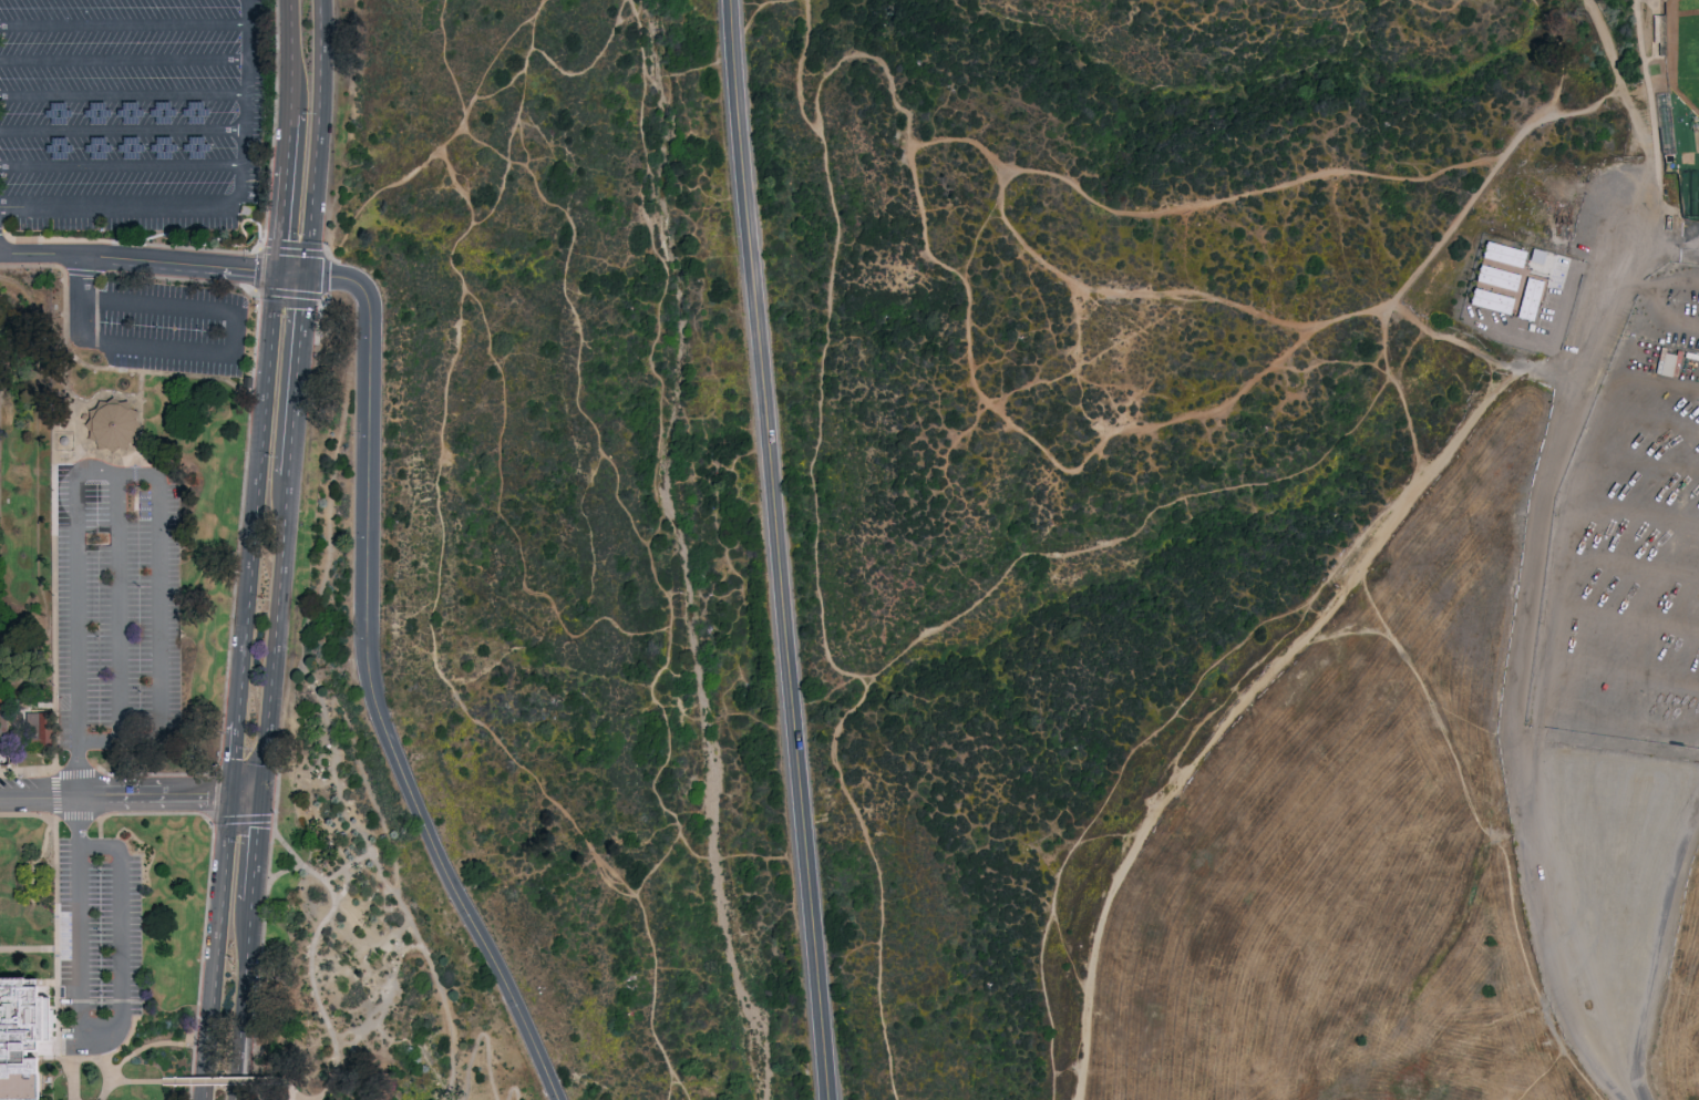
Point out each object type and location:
road: (538, 7)
road: (1438, 7)
road: (756, 8)
road: (1320, 9)
road: (124, 29)
park: (1682, 50)
road: (531, 51)
road: (1564, 55)
road: (291, 56)
road: (124, 64)
road: (796, 68)
road: (318, 72)
road: (821, 81)
road: (125, 96)
road: (248, 105)
building: (125, 111)
building: (159, 111)
building: (191, 111)
building: (54, 112)
parking lot: (132, 113)
road: (1649, 121)
road: (274, 125)
road: (123, 131)
road: (449, 140)
road: (288, 141)
road: (965, 141)
building: (192, 145)
building: (93, 146)
building: (126, 146)
building: (159, 146)
road: (121, 168)
road: (1065, 178)
road: (466, 183)
park: (1698, 203)
road: (115, 209)
road: (310, 210)
parking lot: (1602, 212)
road: (282, 220)
road: (2, 232)
road: (975, 234)
road: (130, 243)
road: (1670, 243)
road: (259, 250)
building: (1501, 253)
building: (1534, 255)
road: (138, 263)
road: (84, 270)
road: (291, 275)
building: (1494, 276)
road: (65, 278)
road: (566, 297)
building: (1526, 298)
building: (1487, 300)
road: (302, 309)
road: (317, 318)
parking lot: (172, 328)
road: (74, 347)
road: (1407, 350)
road: (210, 356)
road: (1332, 361)
building: (1666, 362)
road: (1543, 368)
road: (156, 372)
road: (104, 398)
road: (70, 404)
road: (294, 408)
road: (248, 419)
road: (140, 424)
building: (113, 428)
road: (1412, 428)
road: (107, 455)
road: (1324, 456)
road: (72, 470)
road: (105, 473)
road: (136, 479)
road: (105, 480)
road: (658, 490)
road: (119, 496)
road: (257, 497)
road: (500, 516)
road: (101, 517)
parking lot: (1629, 536)
railway: (37, 538)
road: (1537, 546)
road: (775, 549)
park: (849, 549)
road: (158, 596)
parking lot: (119, 608)
road: (313, 610)
road: (276, 614)
road: (119, 627)
road: (428, 627)
road: (78, 630)
road: (1350, 631)
road: (54, 639)
building: (1, 668)
road: (368, 683)
road: (1209, 696)
road: (1221, 699)
building: (3, 712)
road: (1229, 718)
building: (37, 727)
road: (99, 738)
road: (1144, 744)
road: (10, 752)
road: (235, 759)
road: (78, 771)
road: (261, 772)
road: (55, 773)
road: (155, 775)
road: (276, 788)
road: (154, 794)
traffic signals: (233, 794)
road: (246, 794)
traffic signals: (260, 794)
road: (39, 798)
road: (154, 813)
road: (28, 815)
road: (89, 818)
road: (217, 821)
road: (78, 823)
road: (274, 825)
road: (1106, 834)
road: (1487, 836)
street lamp: (237, 842)
road: (99, 845)
road: (256, 847)
road: (31, 864)
road: (652, 867)
road: (282, 872)
park: (29, 877)
road: (54, 883)
road: (401, 916)
road: (205, 921)
road: (217, 946)
parking lot: (97, 947)
road: (1064, 948)
road: (1655, 948)
street lamp: (230, 959)
road: (259, 962)
road: (247, 963)
road: (55, 976)
road: (320, 999)
building: (23, 1038)
road: (115, 1038)
road: (161, 1044)
road: (482, 1047)
road: (97, 1051)
road: (69, 1059)
park: (83, 1059)
road: (83, 1059)
road: (238, 1061)
road: (75, 1069)
road: (195, 1071)
road: (1542, 1072)
road: (105, 1078)
road: (133, 1080)
road: (222, 1080)
road: (331, 1082)
road: (676, 1086)
road: (670, 1088)
road: (111, 1091)
road: (295, 1091)
road: (256, 1093)
road: (291, 1094)
road: (247, 1096)

